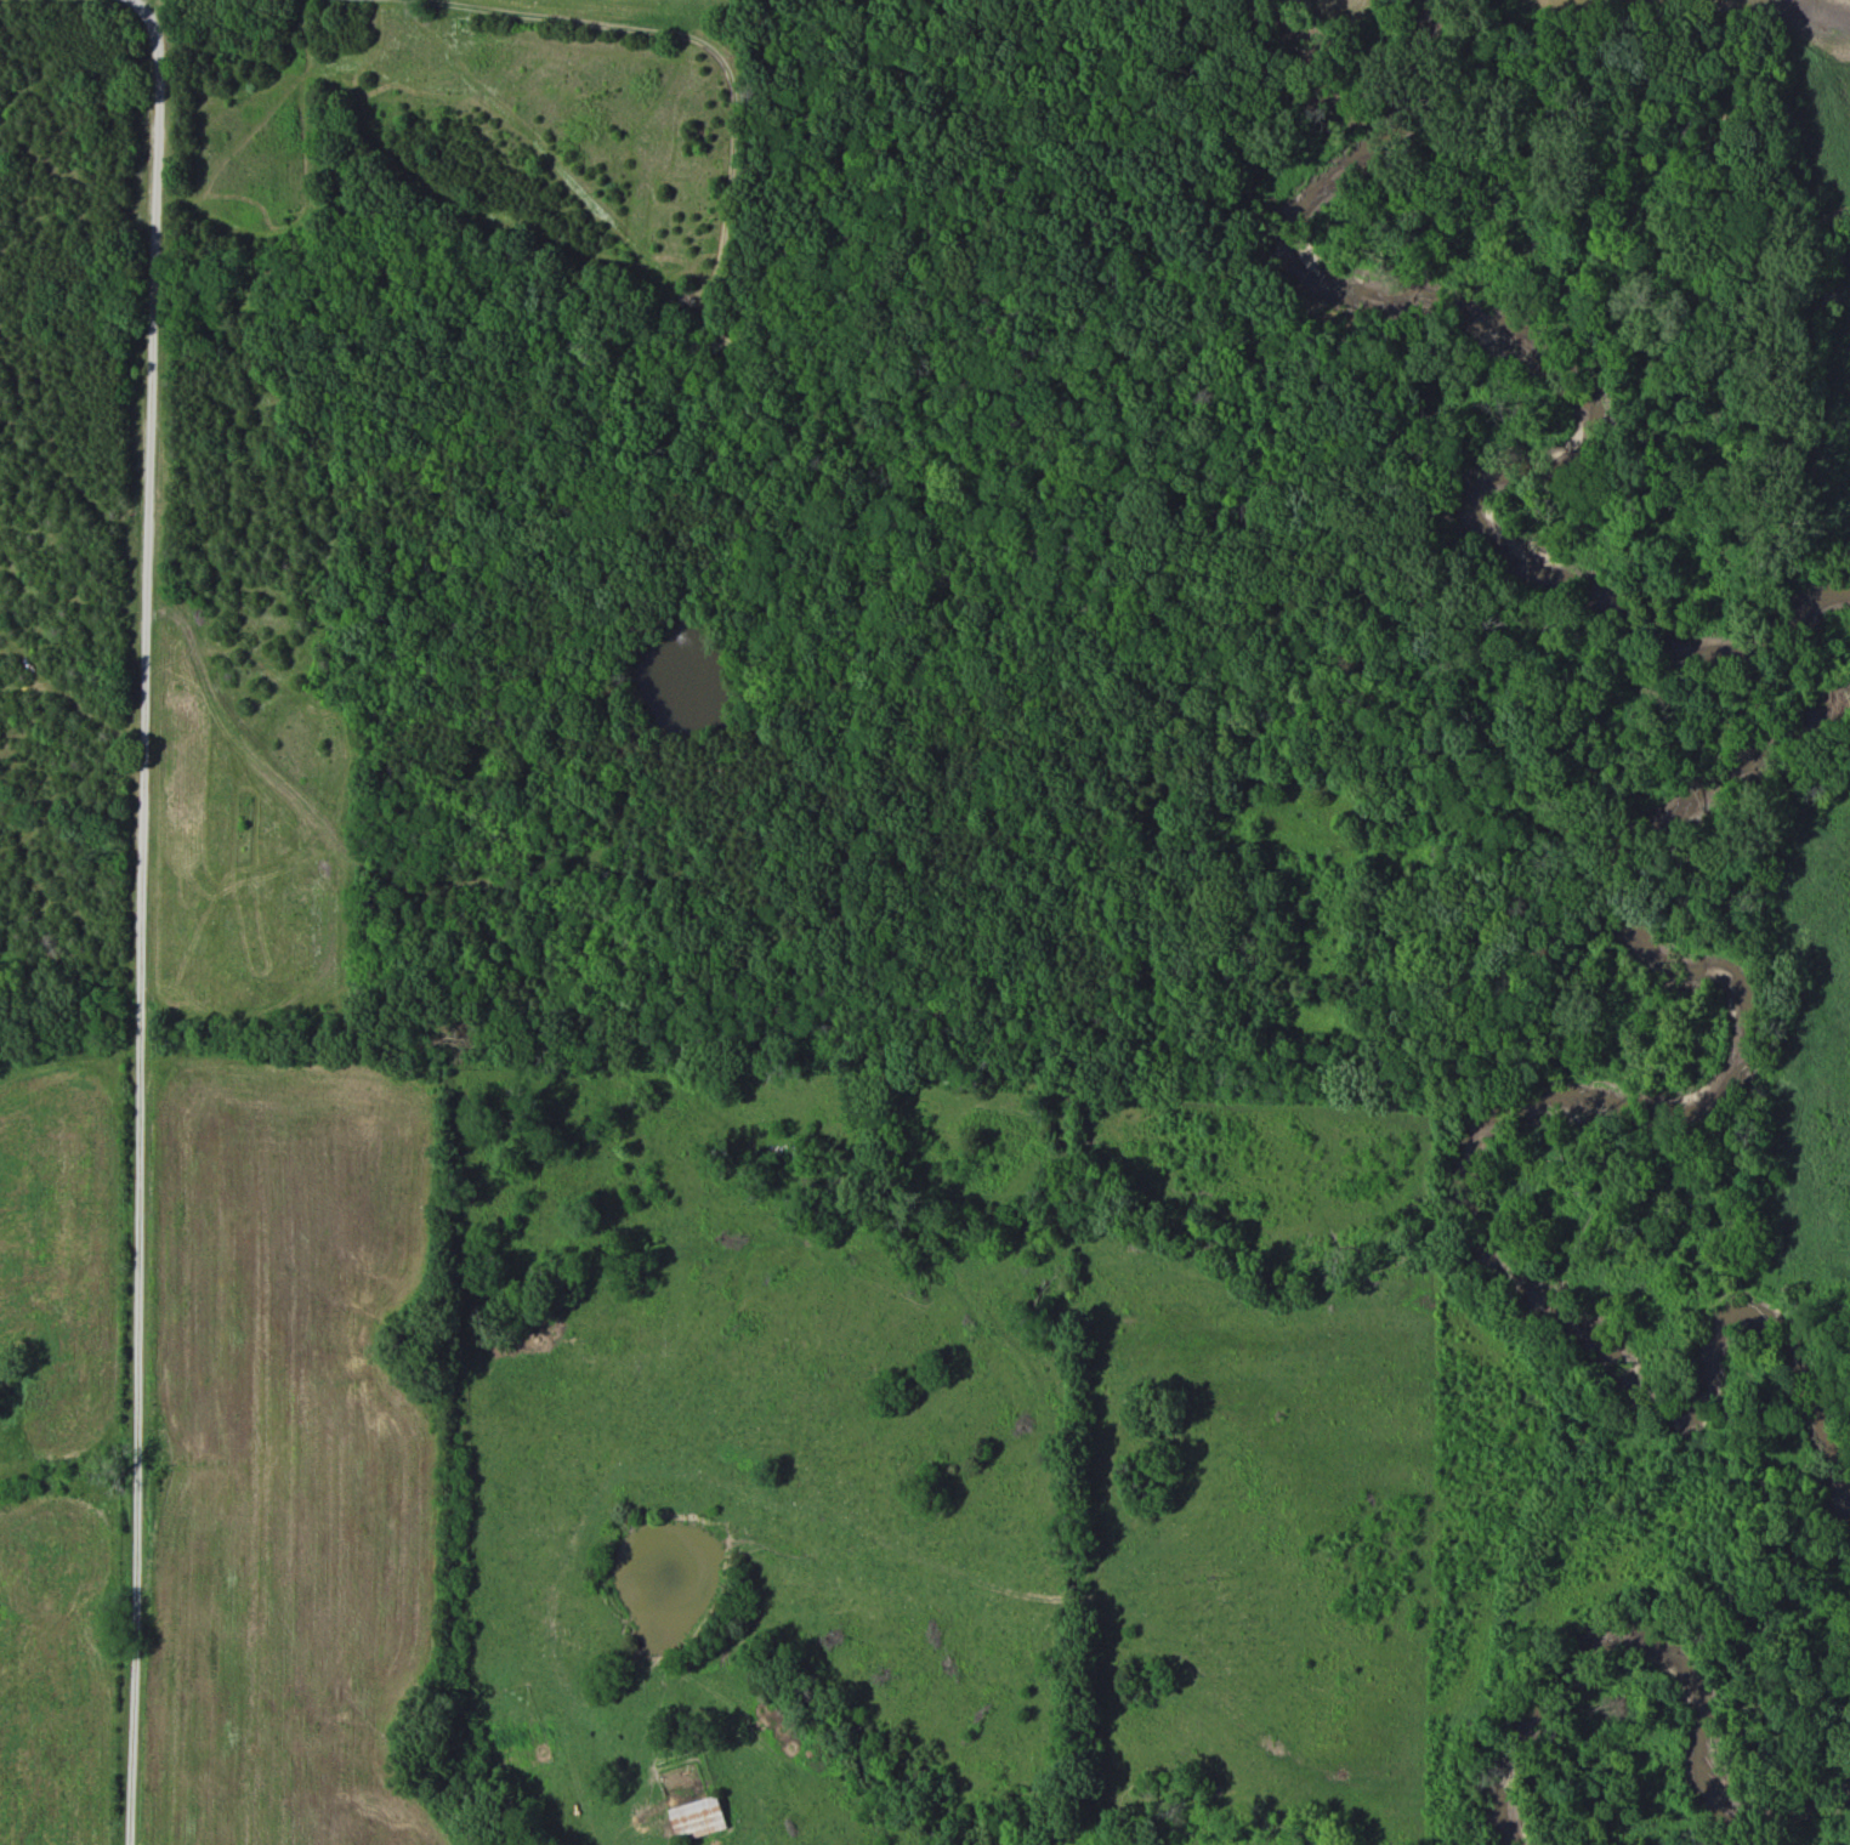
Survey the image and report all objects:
road: (134, 2)
road: (143, 920)
building: (696, 1820)

